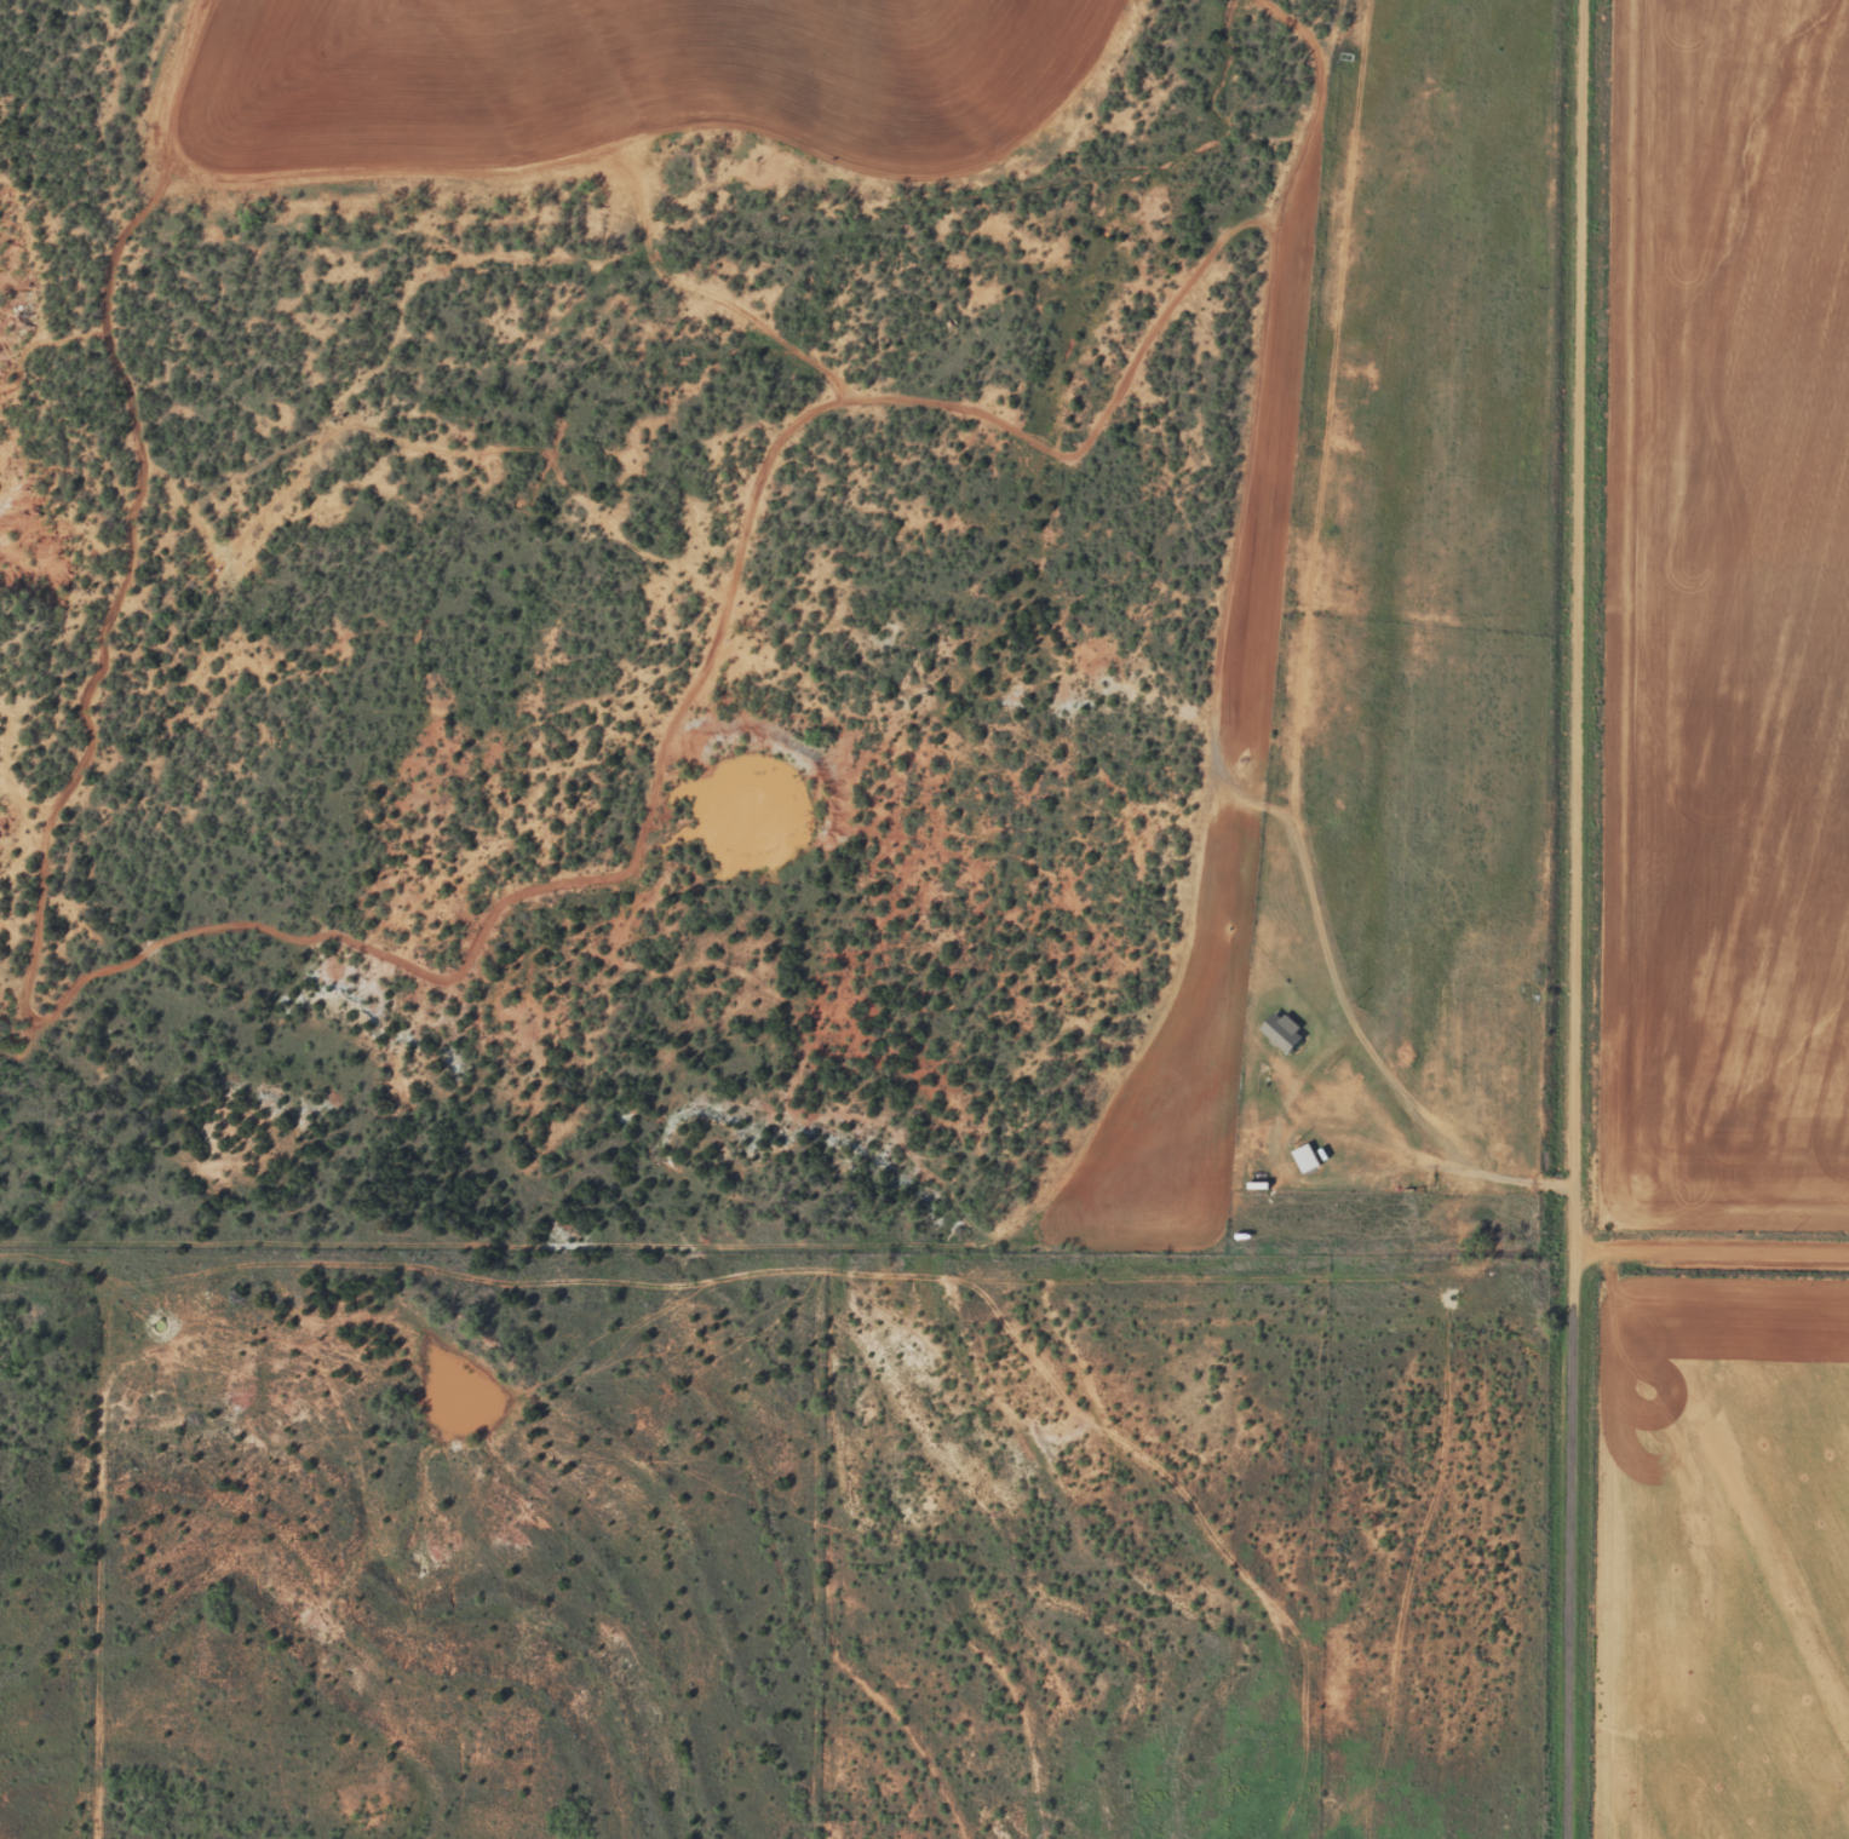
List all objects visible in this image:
road: (1580, 623)
building: (1287, 1035)
building: (1310, 1160)
road: (1712, 1248)
road: (1573, 1544)

